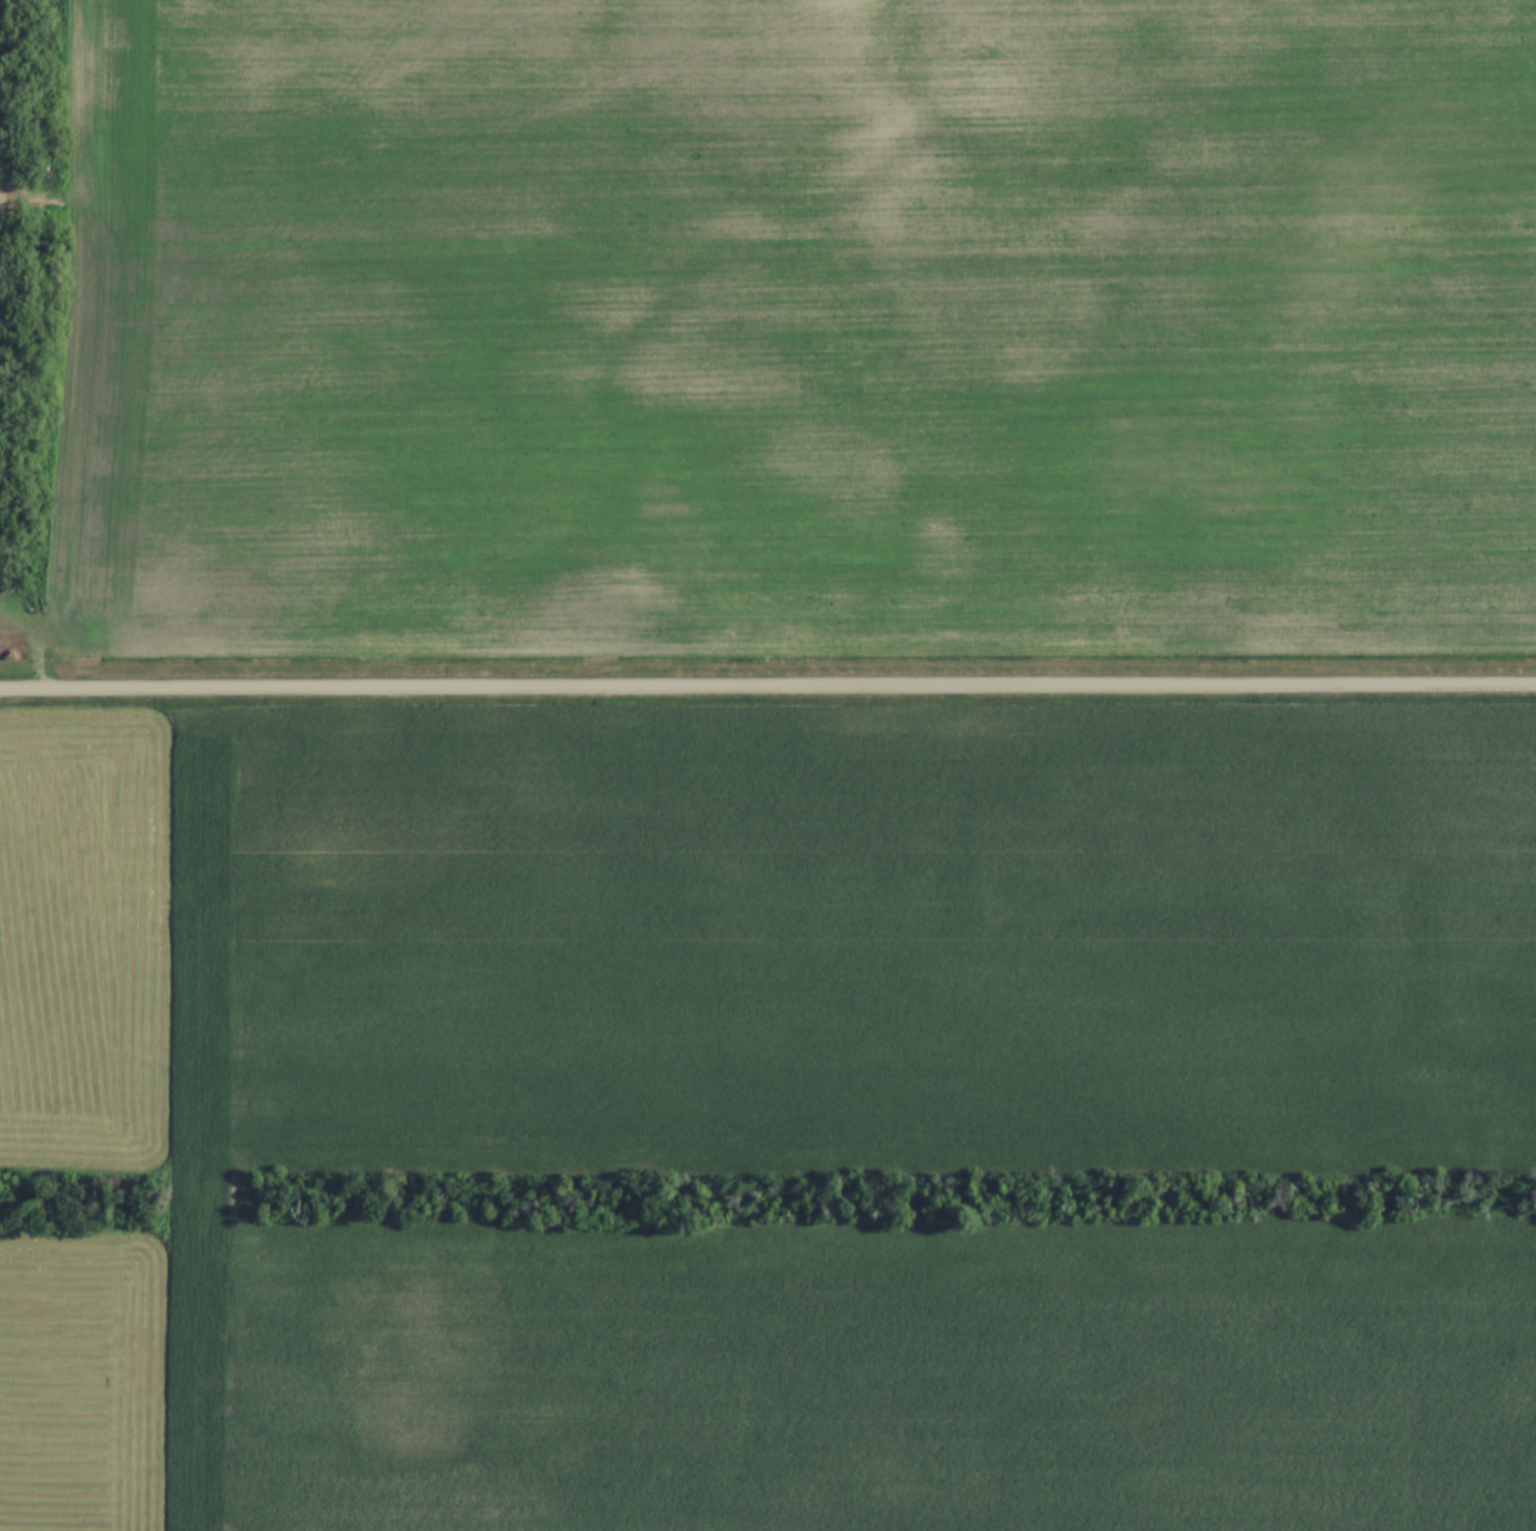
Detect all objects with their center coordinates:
road: (768, 686)

